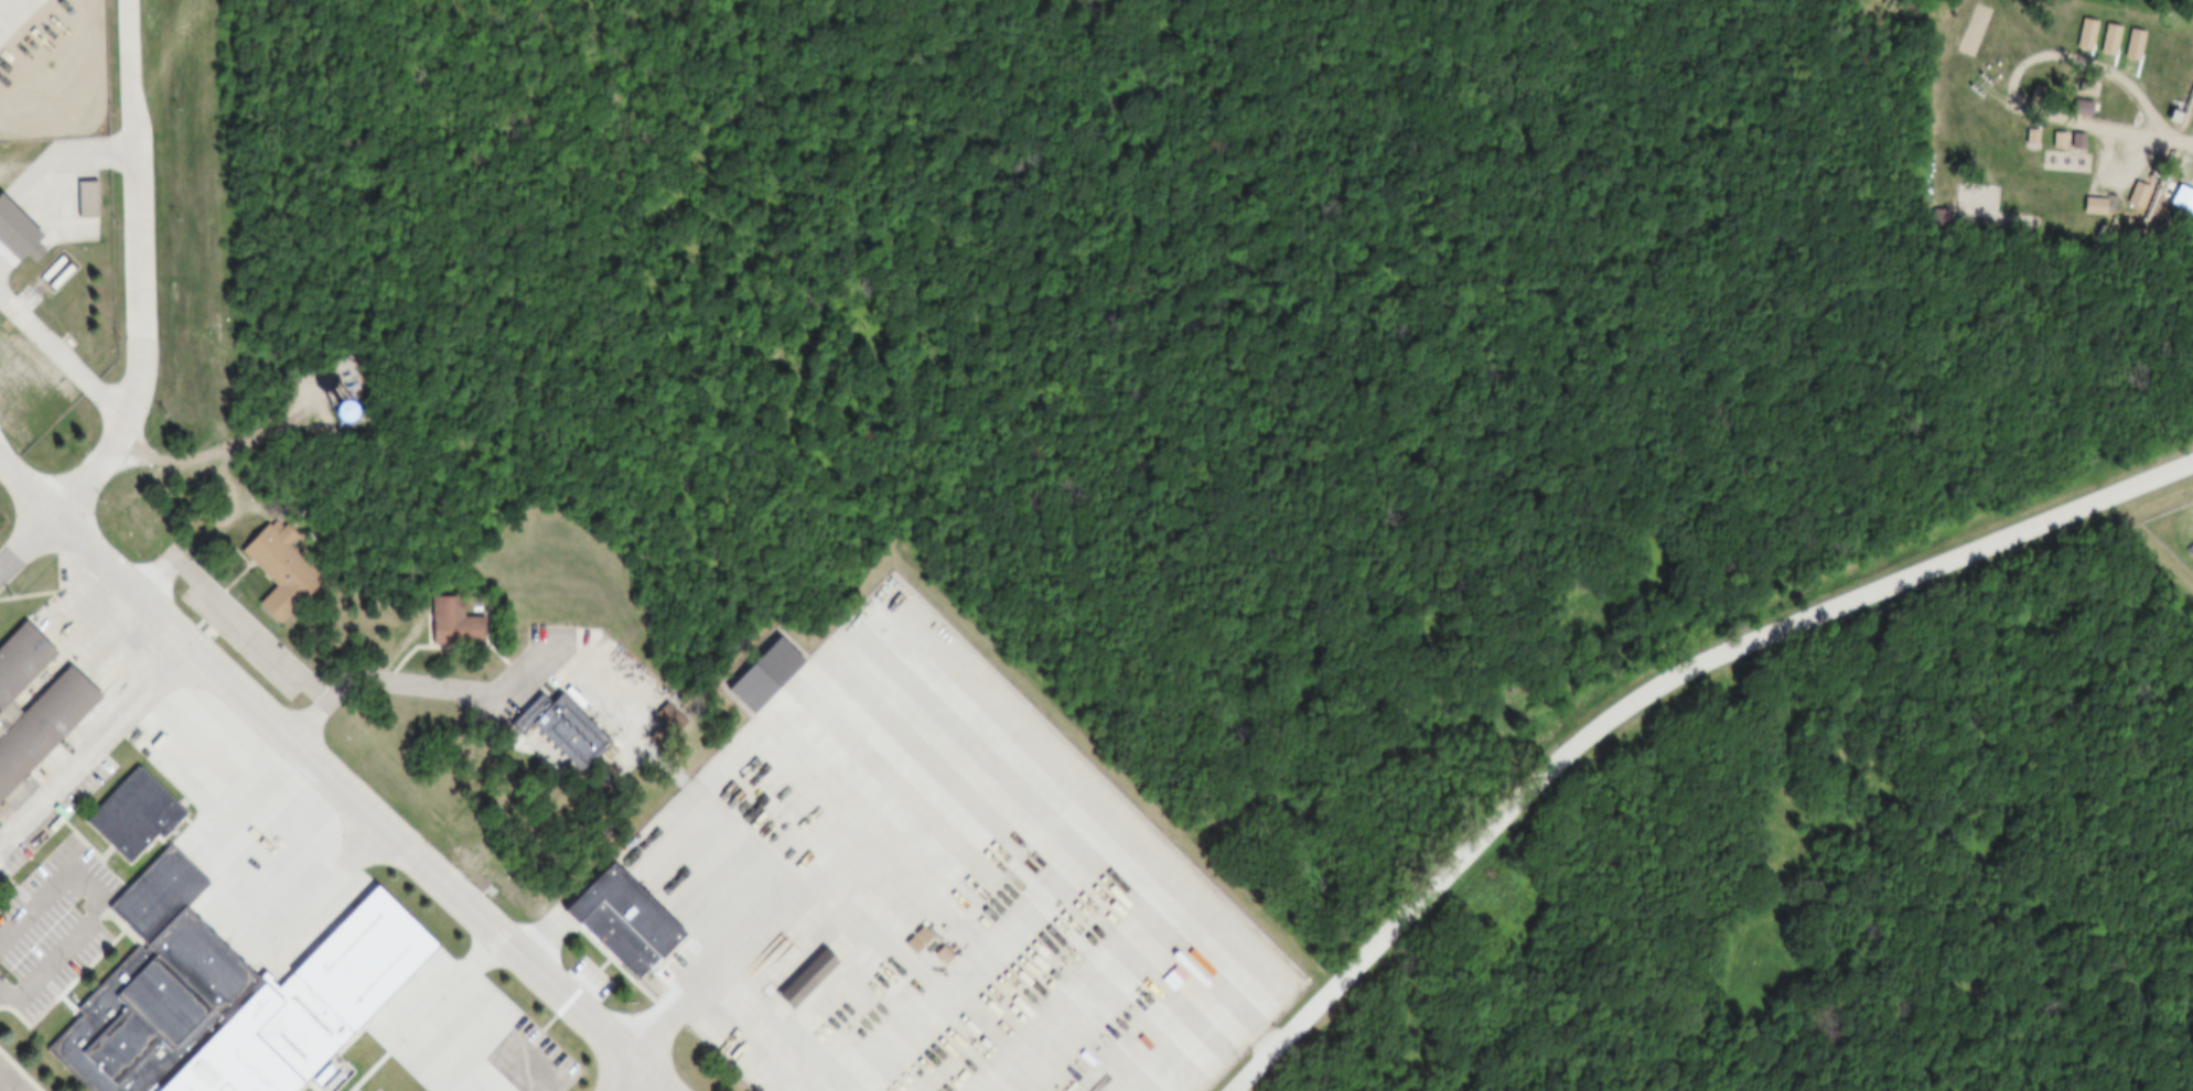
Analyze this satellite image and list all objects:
road: (7, 8)
building: (2077, 32)
building: (2103, 39)
building: (2126, 44)
building: (2079, 87)
building: (2073, 105)
building: (2163, 114)
building: (2024, 134)
building: (2051, 138)
building: (2068, 140)
road: (138, 169)
building: (2154, 171)
building: (2132, 194)
building: (80, 198)
building: (2178, 198)
building: (2087, 204)
building: (11, 231)
building: (28, 252)
road: (67, 358)
water tower: (294, 391)
water tower: (329, 409)
building: (335, 418)
road: (216, 438)
road: (99, 467)
road: (30, 487)
building: (271, 566)
building: (445, 622)
building: (752, 671)
road: (415, 682)
road: (1654, 683)
building: (32, 699)
building: (555, 731)
road: (94, 739)
road: (362, 809)
parking lot: (938, 890)
road: (85, 905)
building: (612, 920)
parking lot: (51, 930)
building: (140, 938)
building: (937, 955)
building: (294, 1013)
road: (626, 1072)
road: (9, 1082)
parking lot: (368, 1088)

